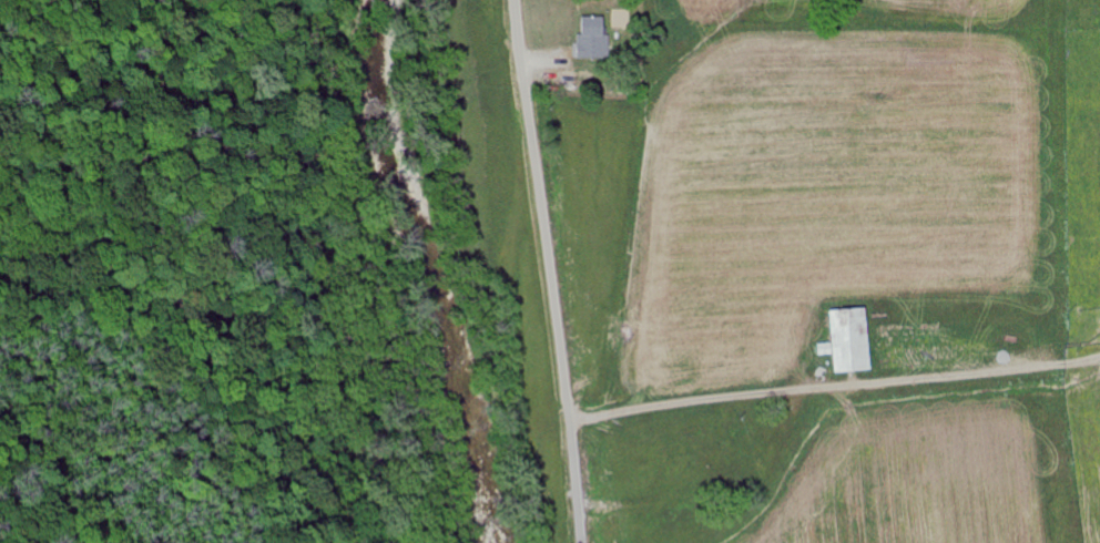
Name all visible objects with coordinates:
building: (595, 38)
road: (550, 270)
building: (856, 340)

